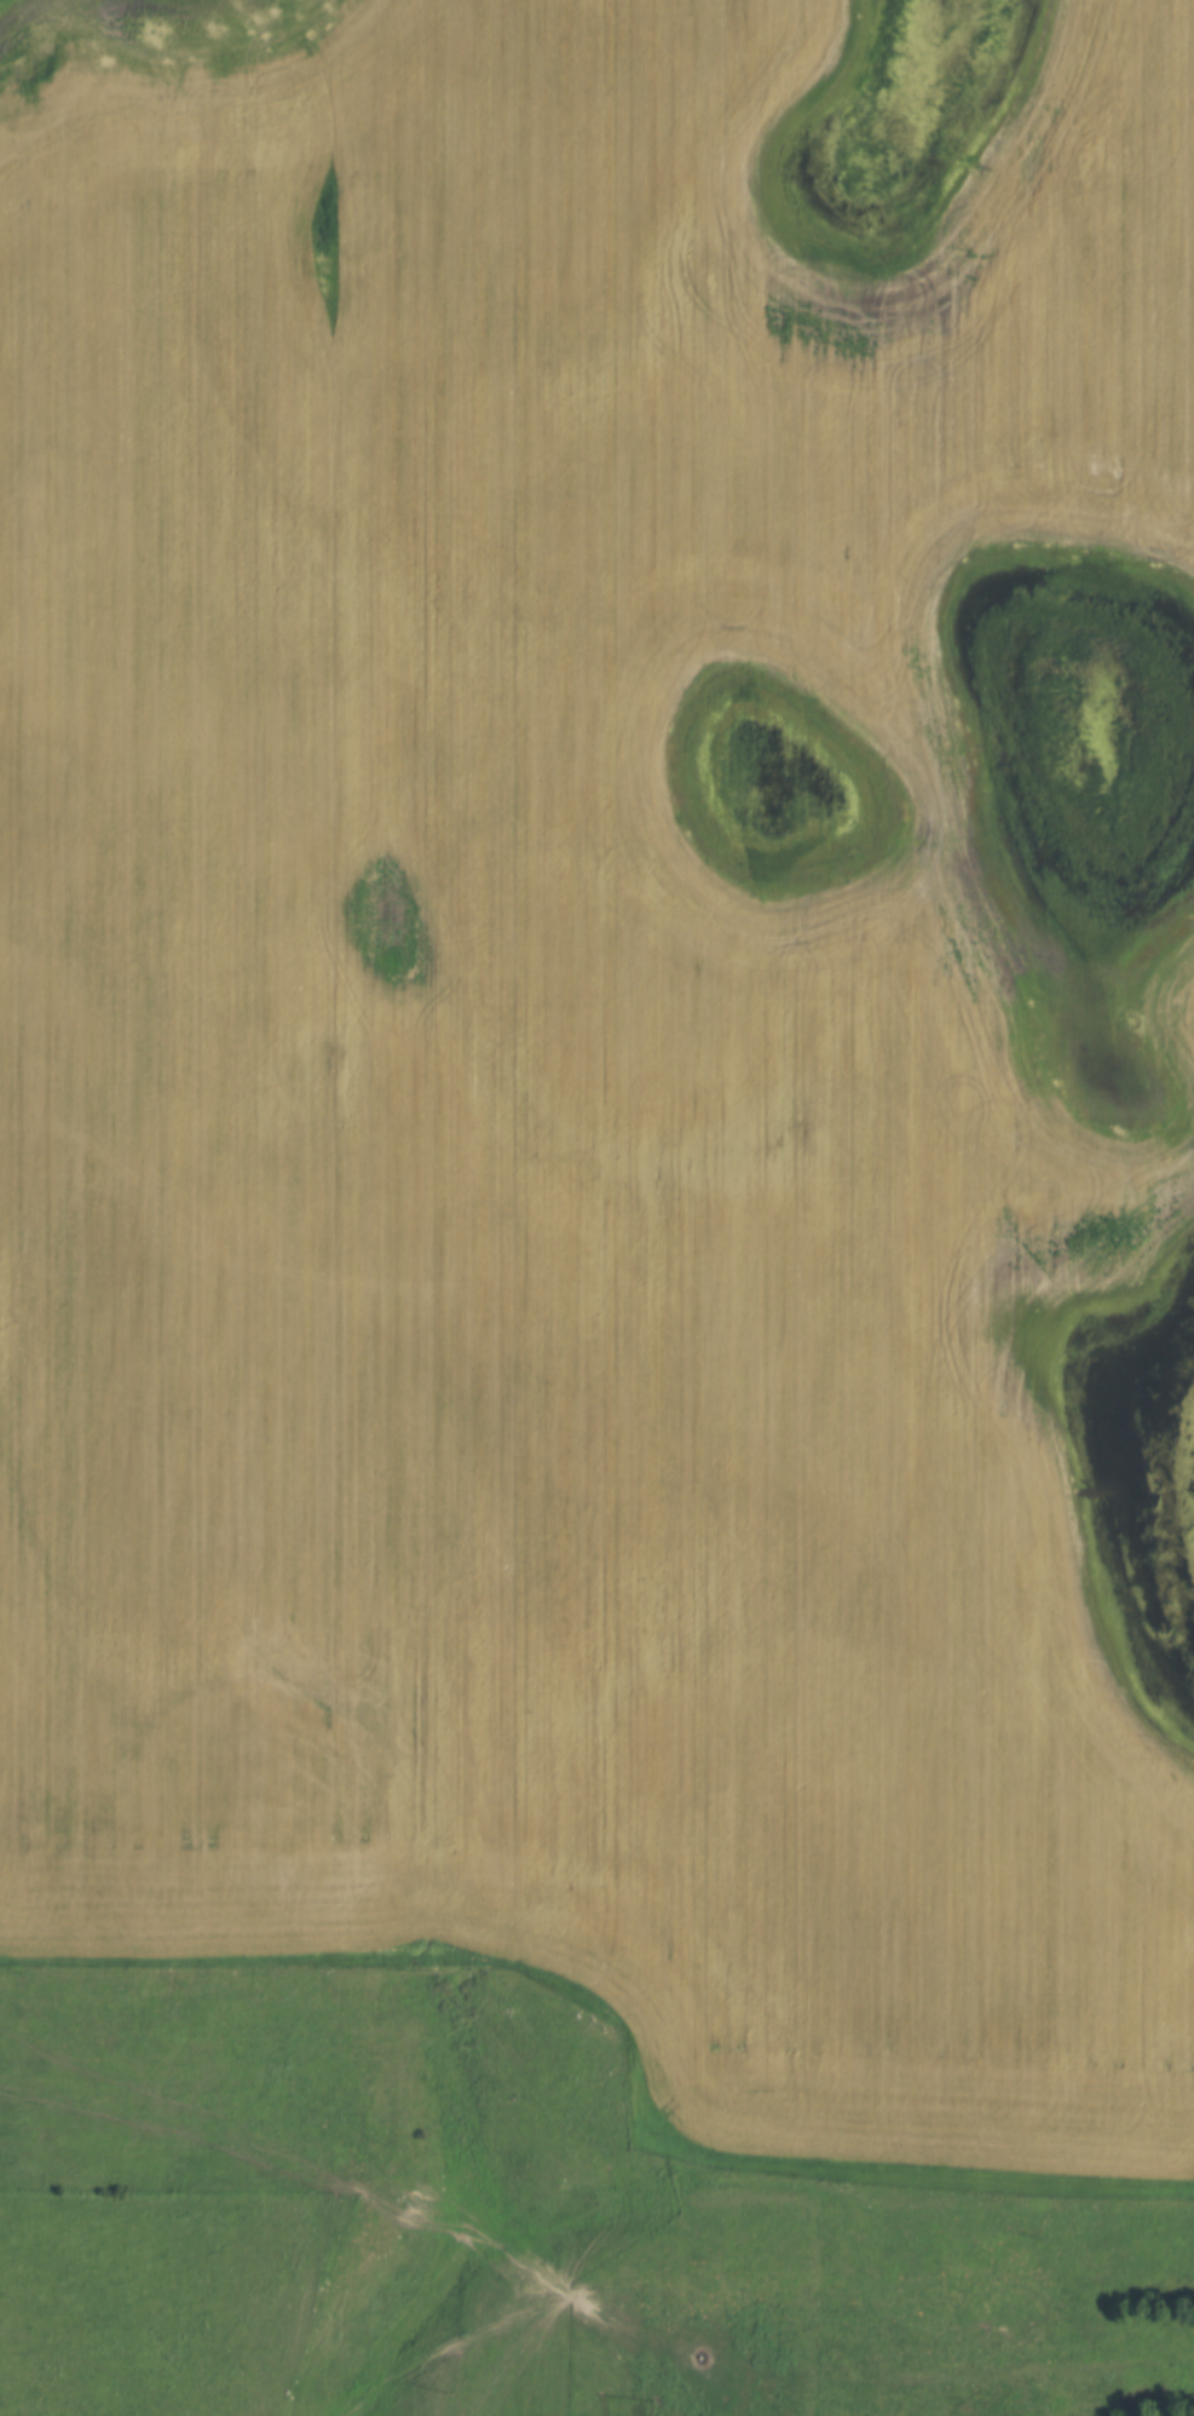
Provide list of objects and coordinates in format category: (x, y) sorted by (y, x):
road: (911, 2184)

